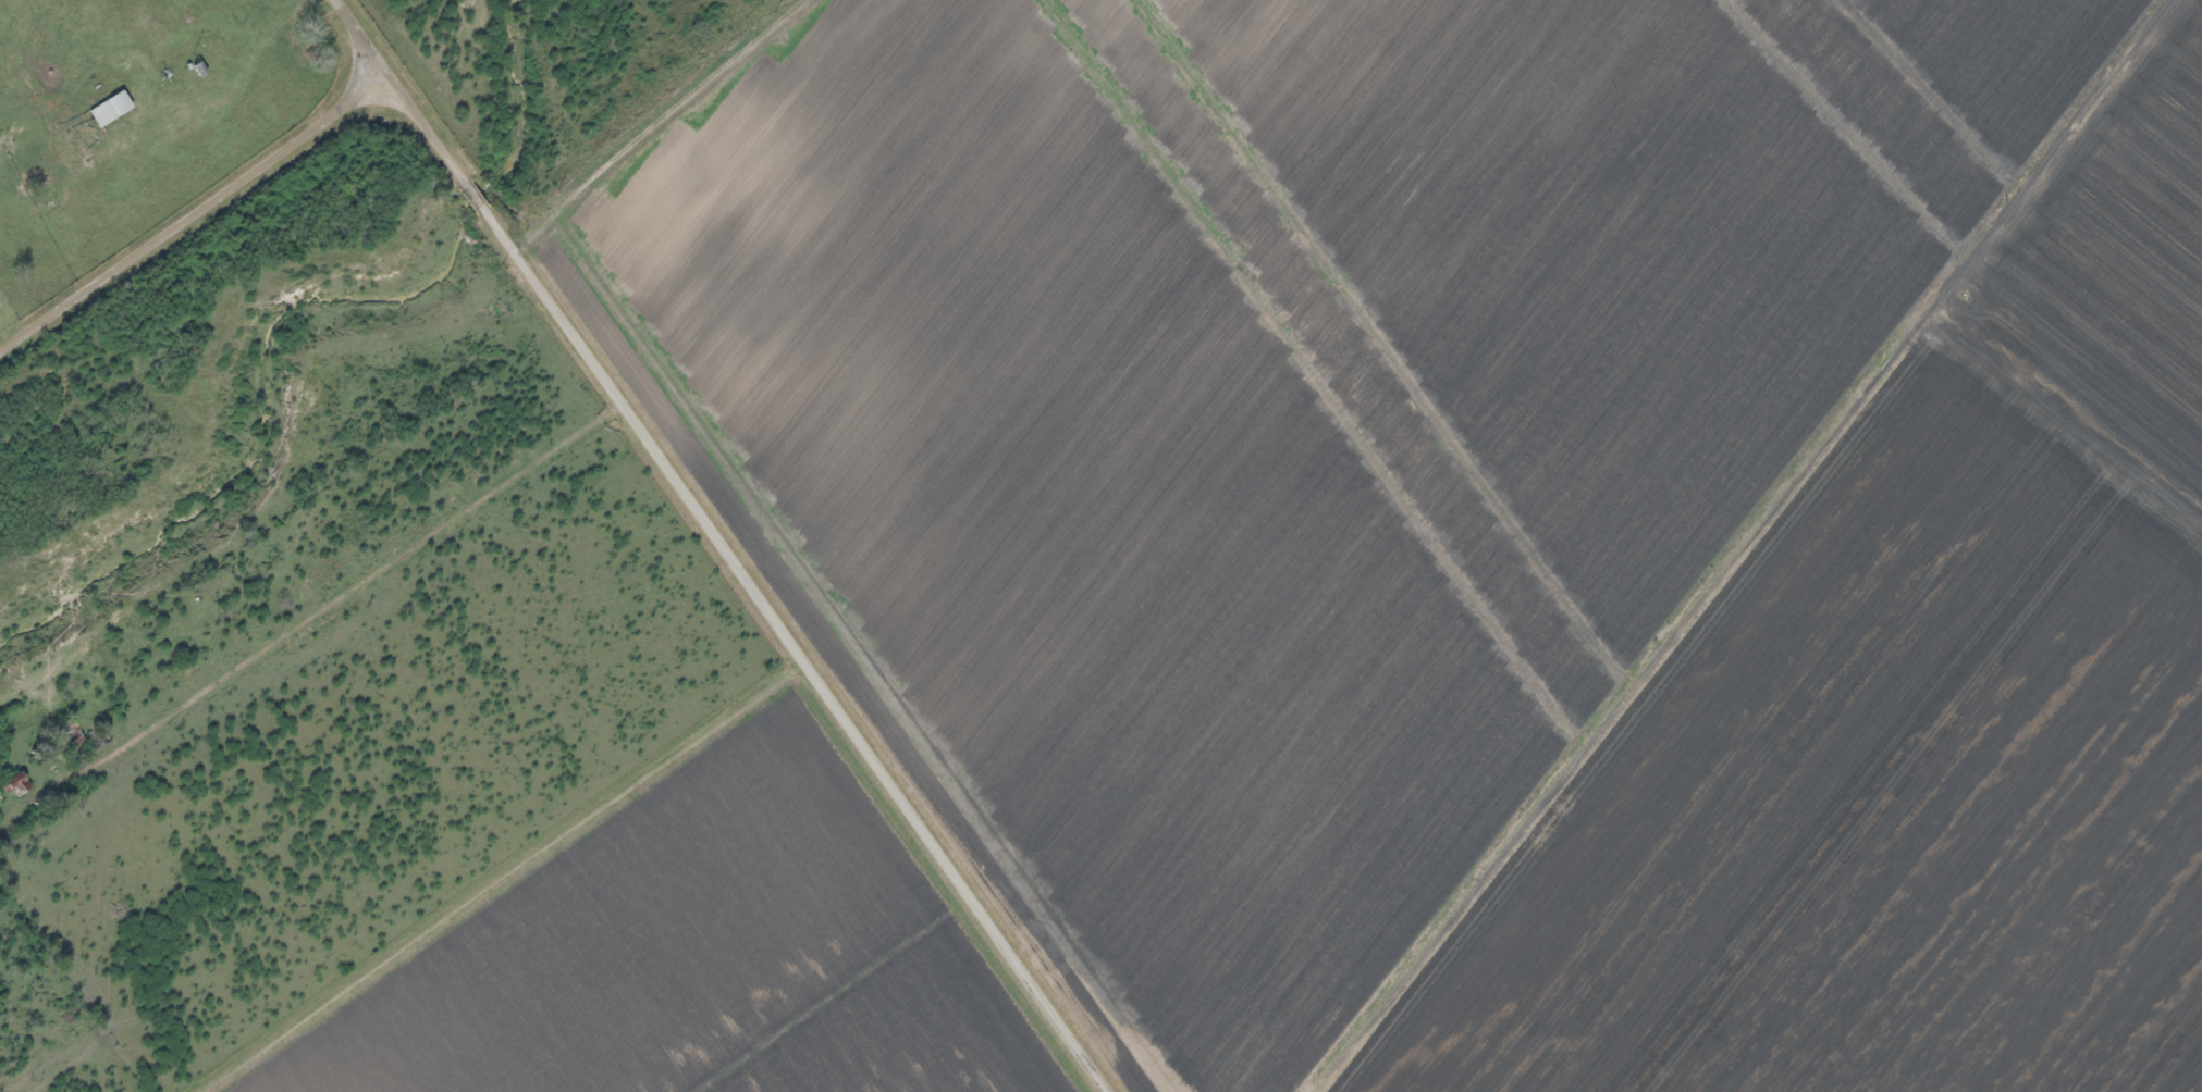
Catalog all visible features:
building: (112, 110)
road: (196, 208)
road: (726, 545)

